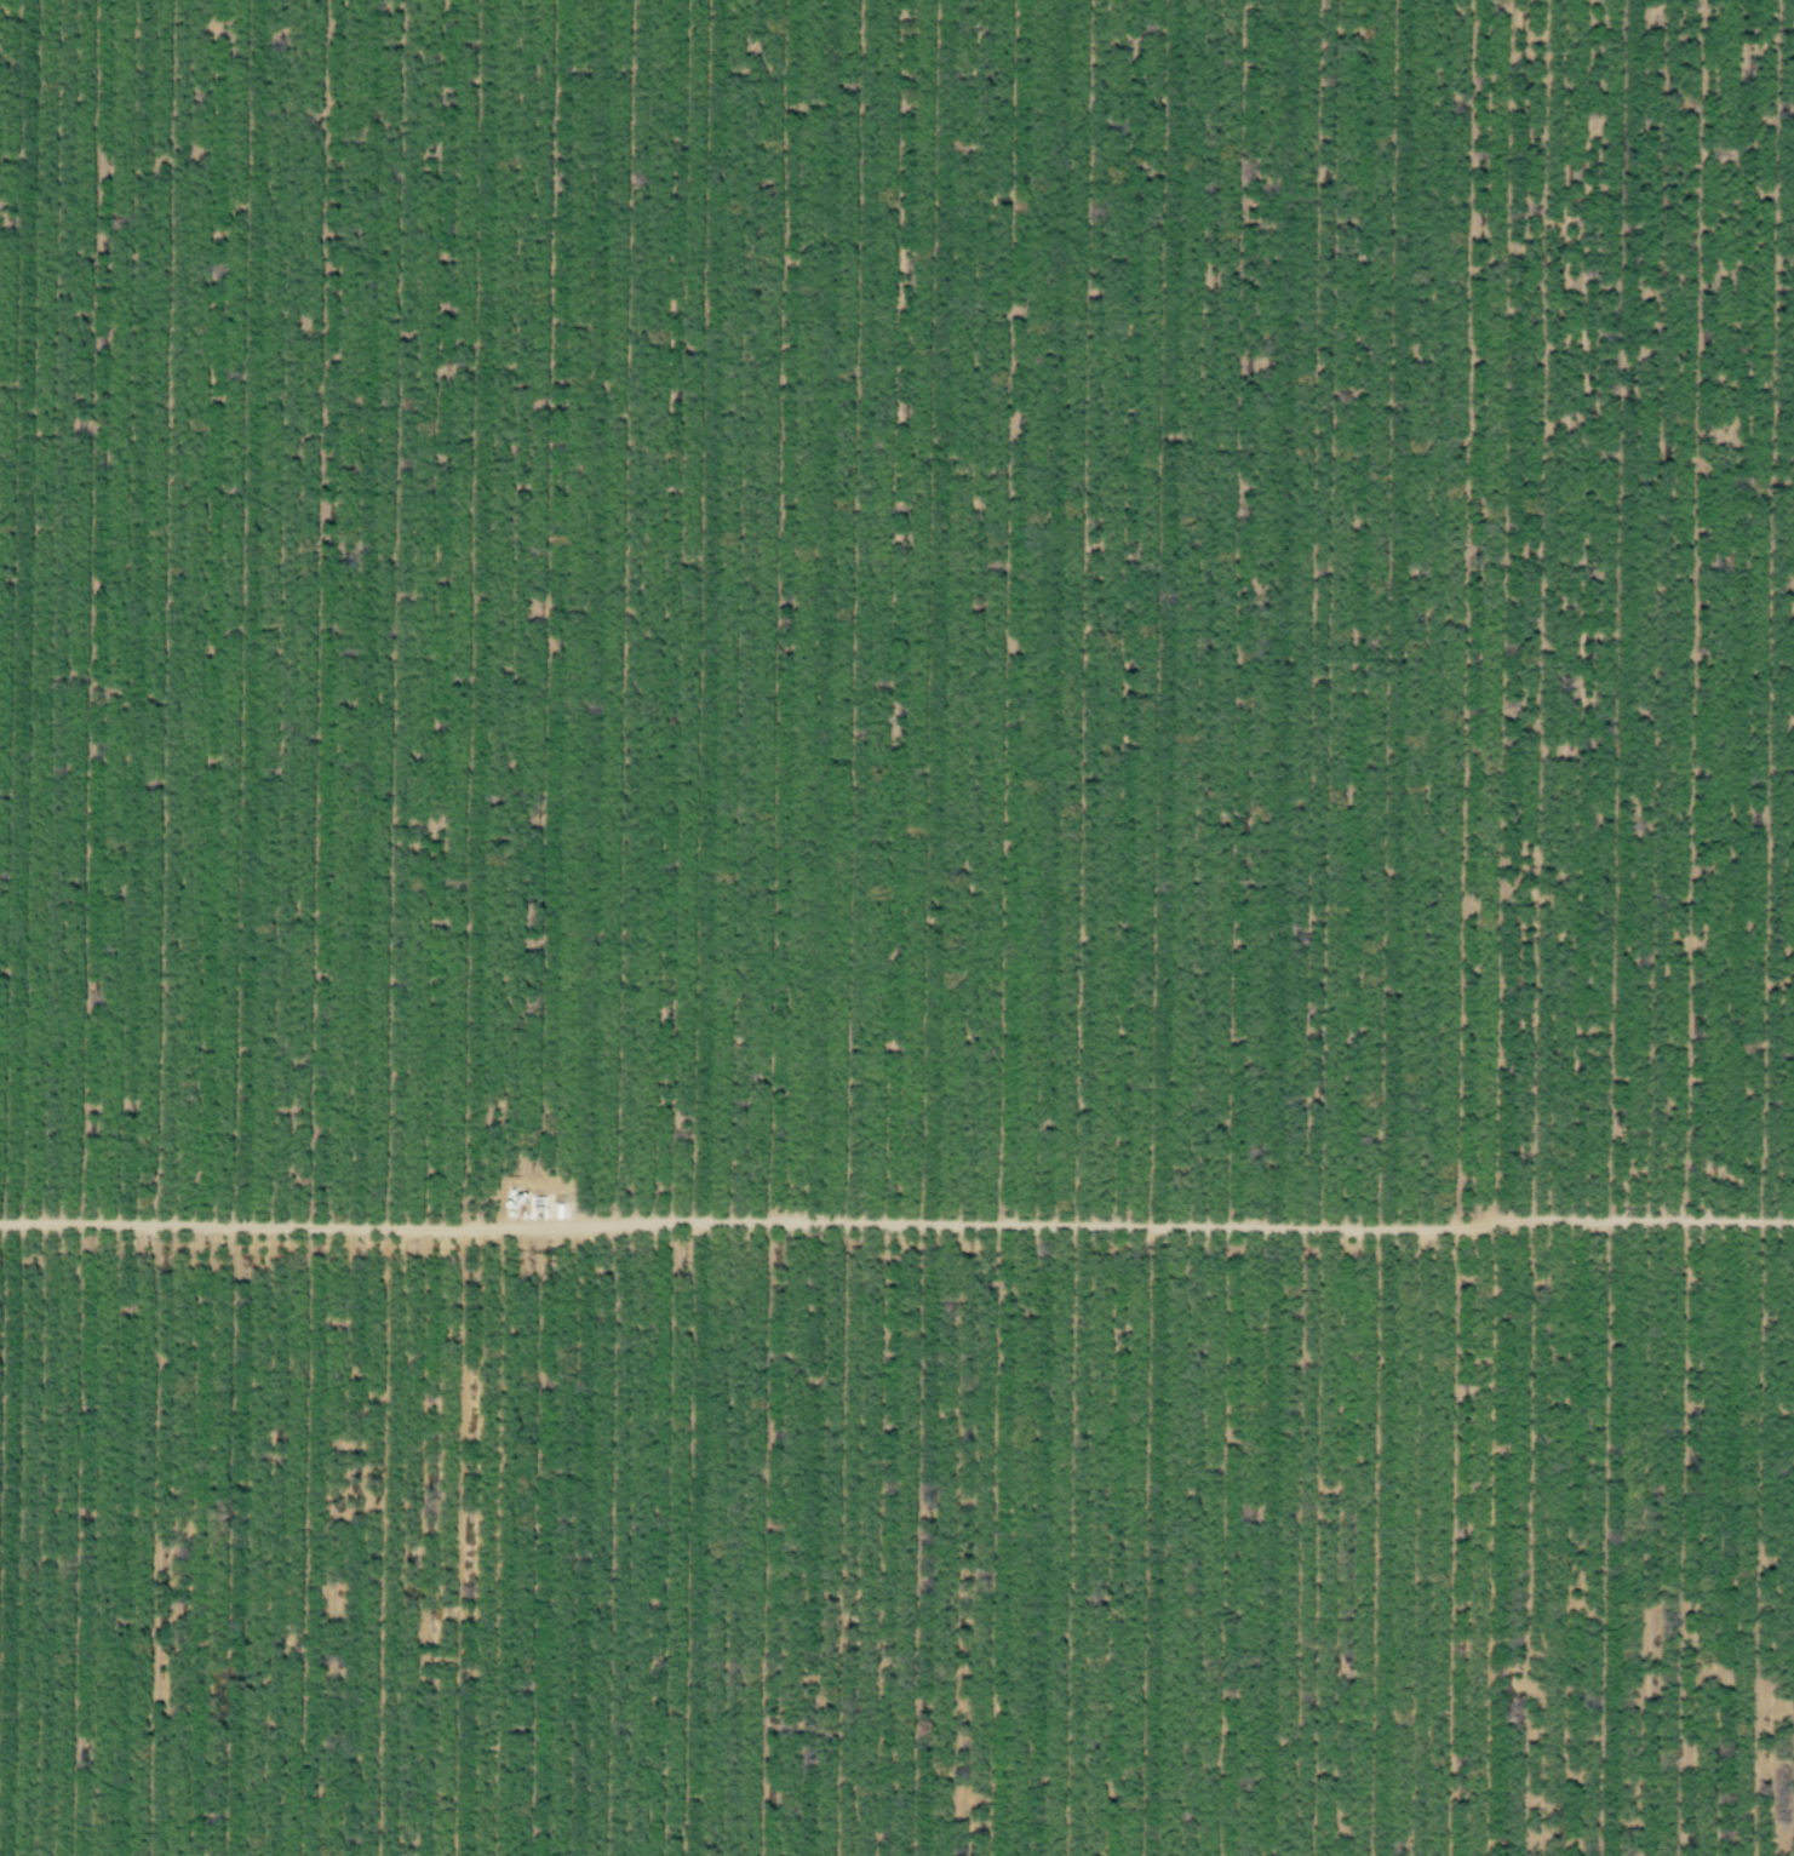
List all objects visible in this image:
road: (896, 1222)

